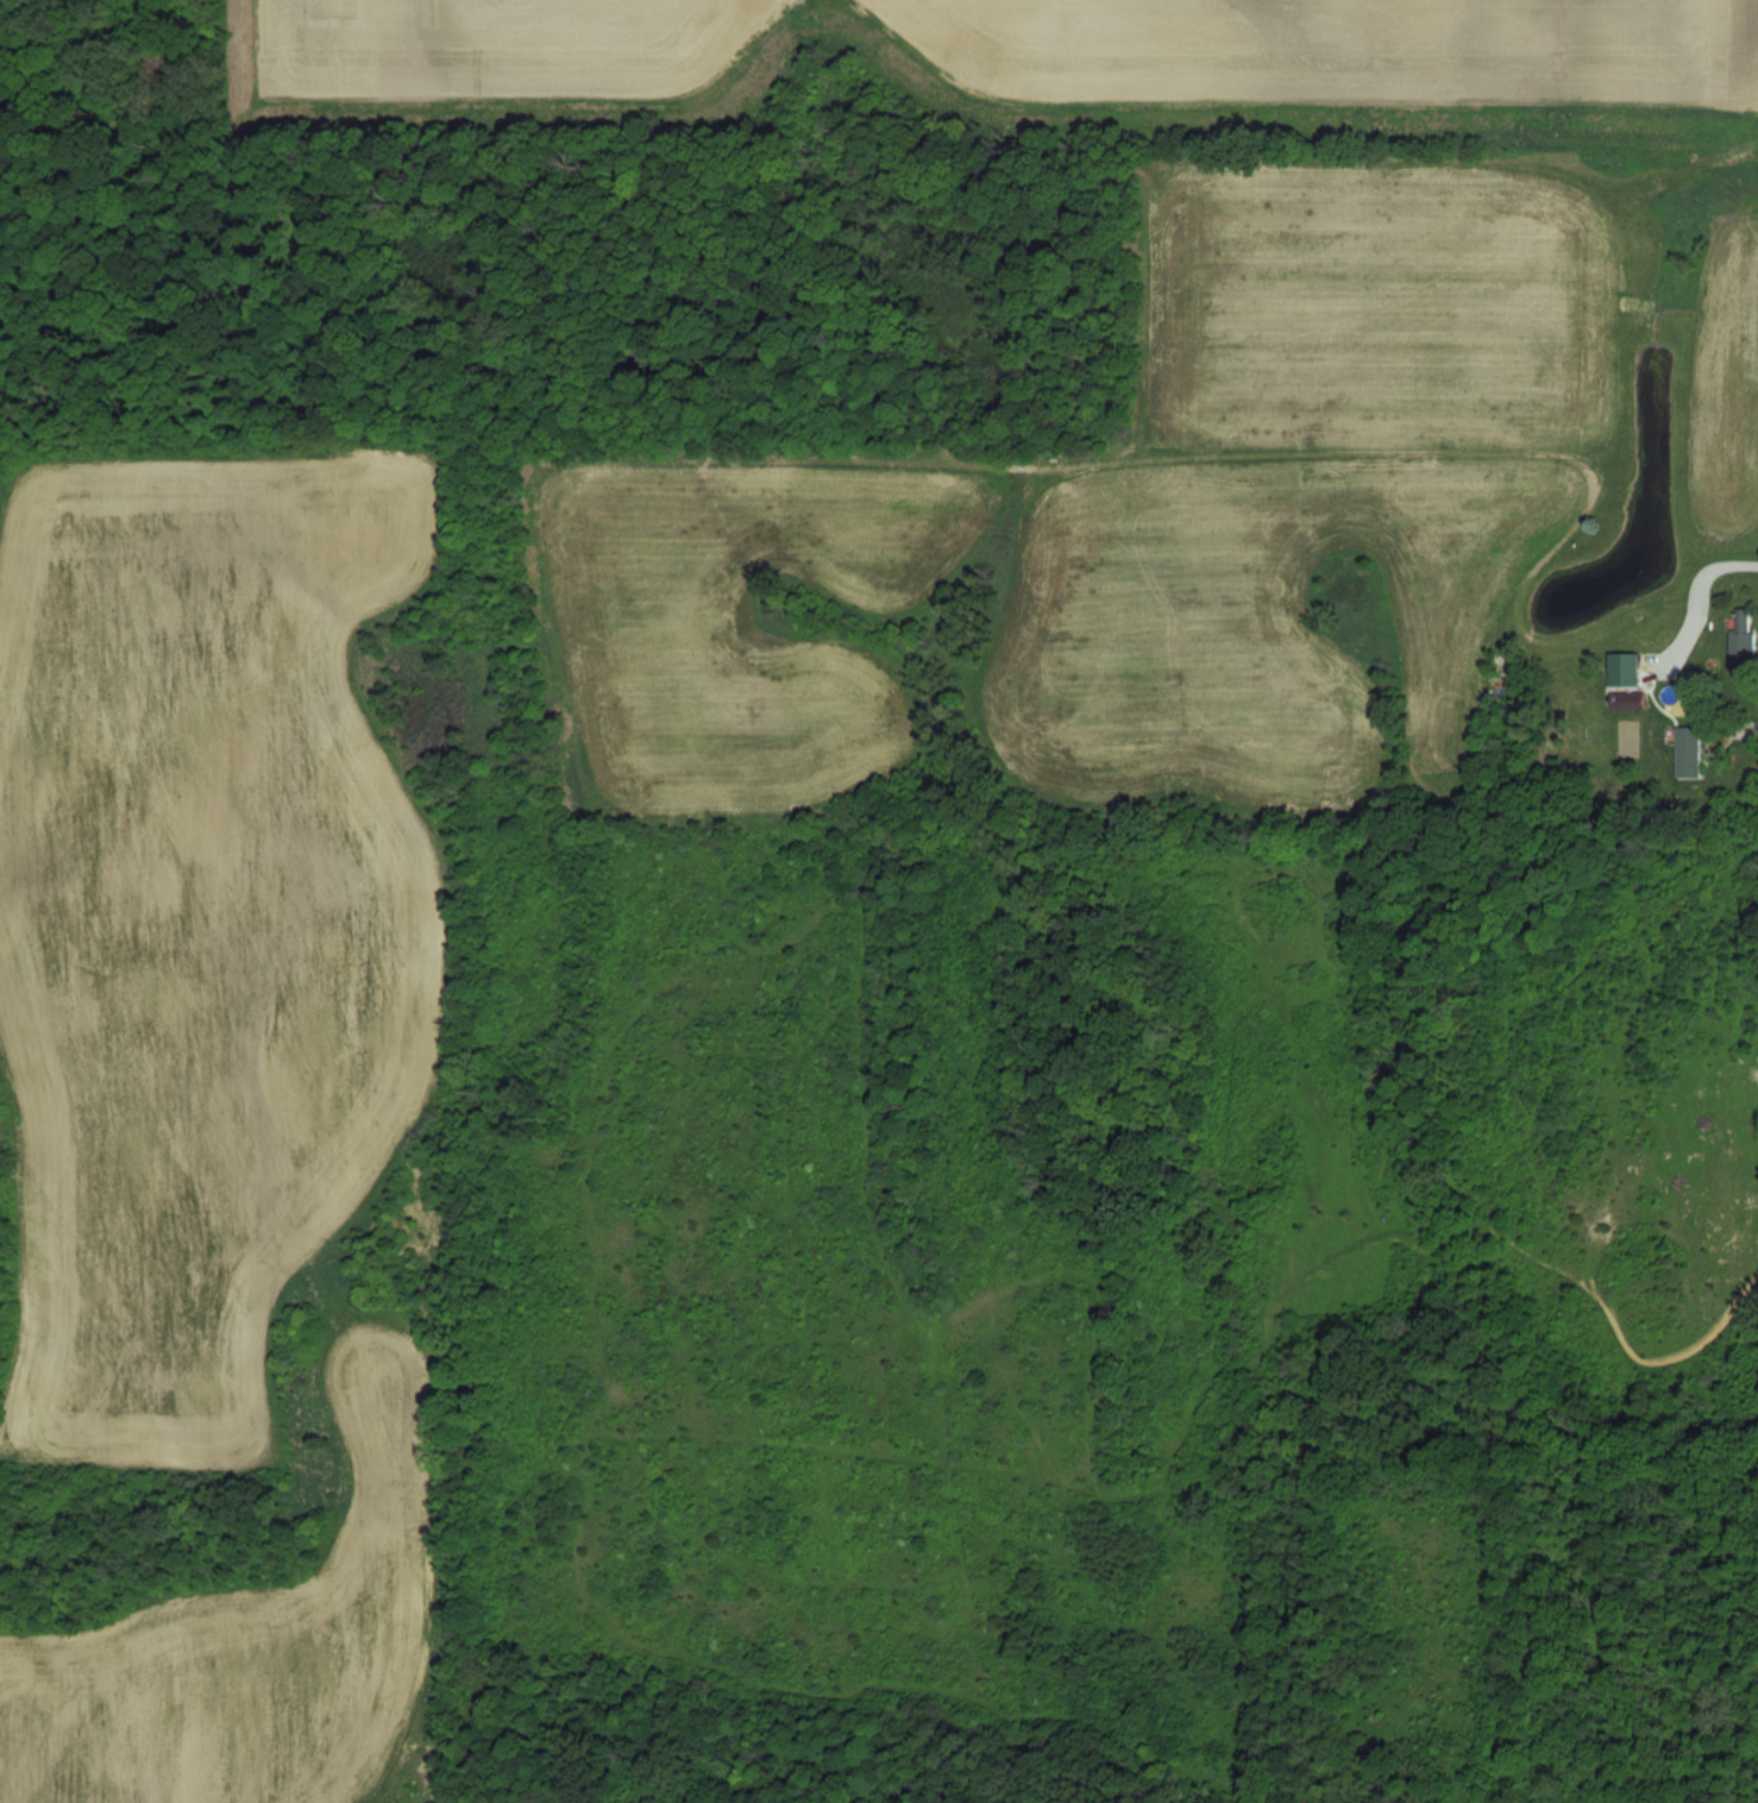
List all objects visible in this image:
building: (1740, 629)
building: (1622, 668)
building: (1626, 699)
building: (1687, 752)

